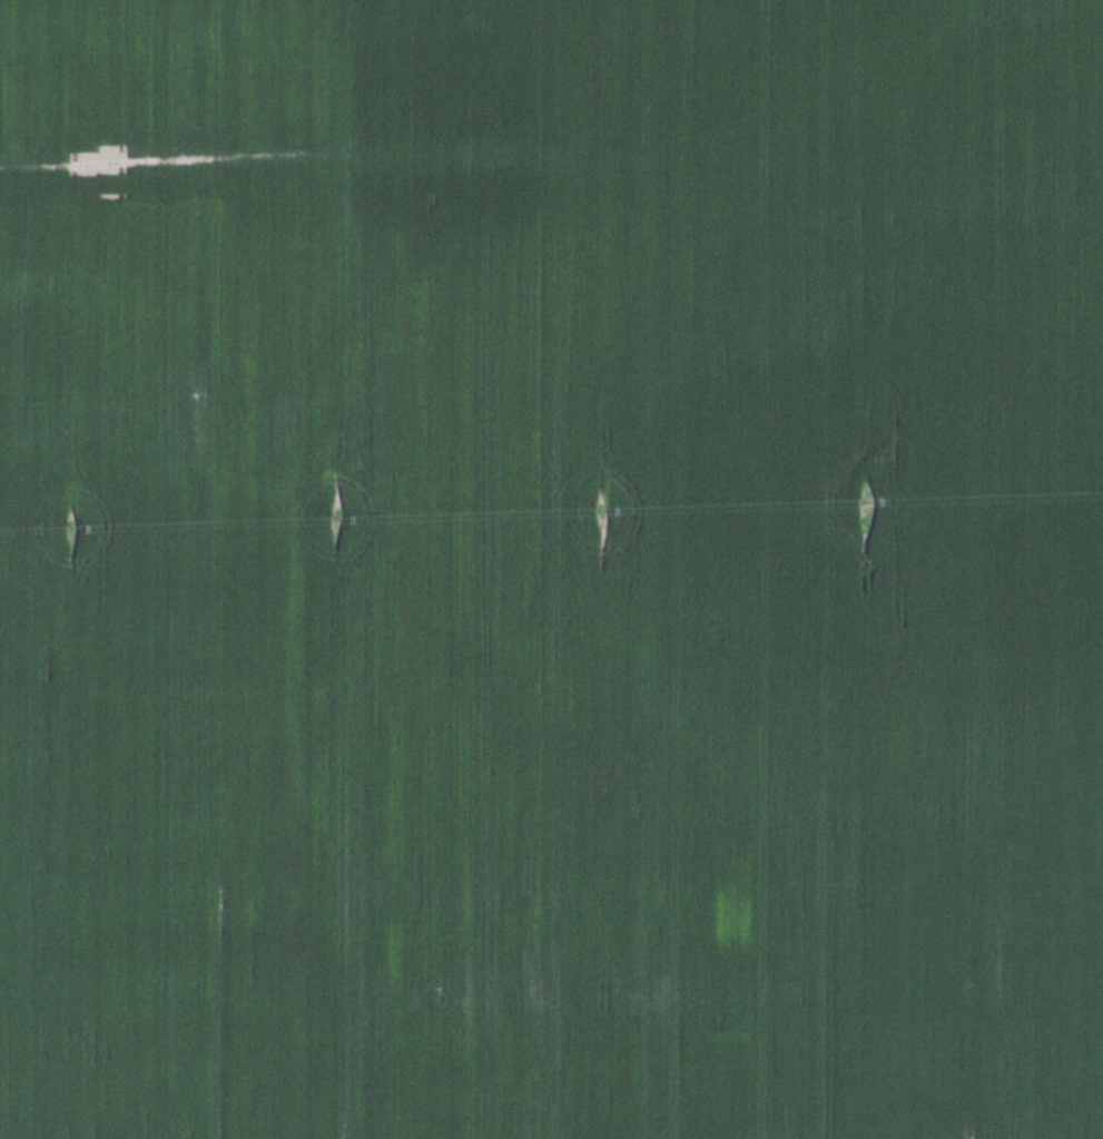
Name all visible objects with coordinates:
crop: (551, 569)

